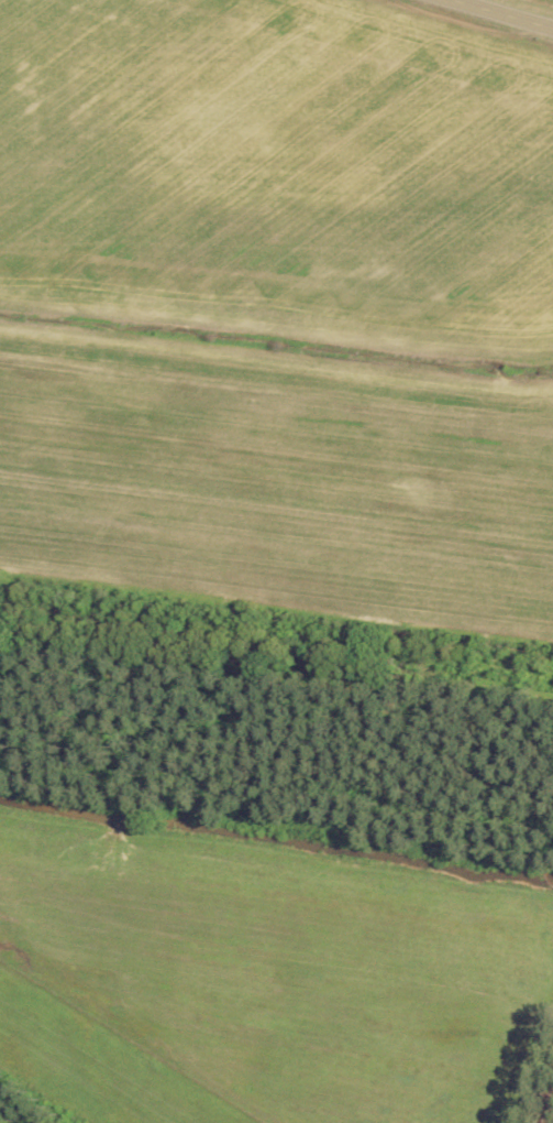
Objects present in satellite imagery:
road: (510, 12)
railway: (276, 636)

